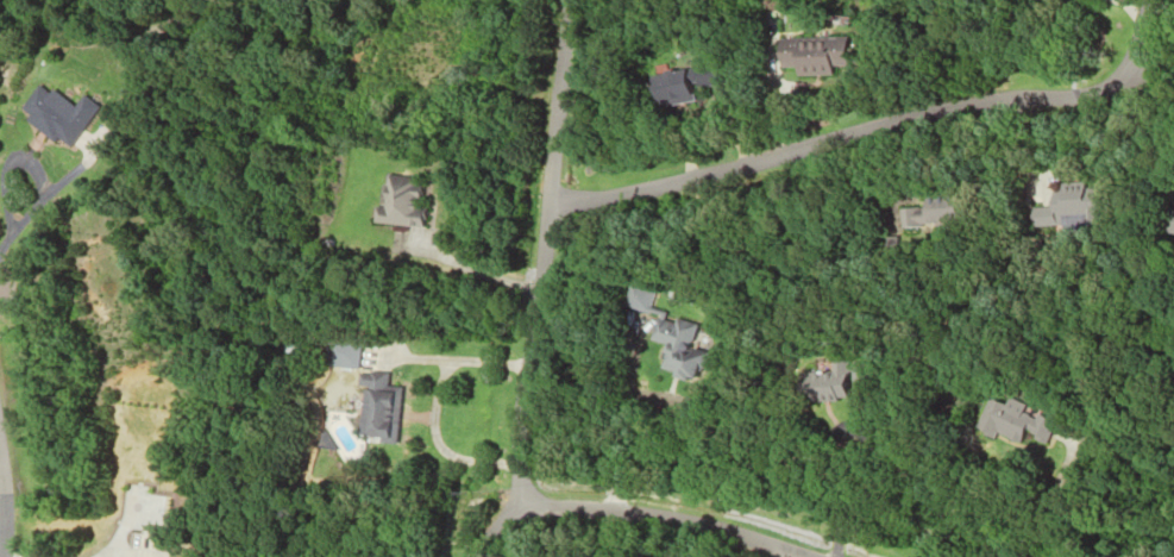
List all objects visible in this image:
building: (811, 55)
road: (1147, 73)
building: (704, 82)
building: (668, 89)
road: (552, 104)
building: (58, 112)
road: (871, 127)
road: (38, 181)
building: (397, 200)
building: (929, 211)
building: (1063, 214)
road: (4, 220)
road: (2, 239)
building: (638, 298)
building: (677, 348)
road: (522, 356)
building: (856, 371)
building: (825, 381)
building: (373, 405)
building: (1011, 423)
road: (655, 515)
road: (489, 528)

